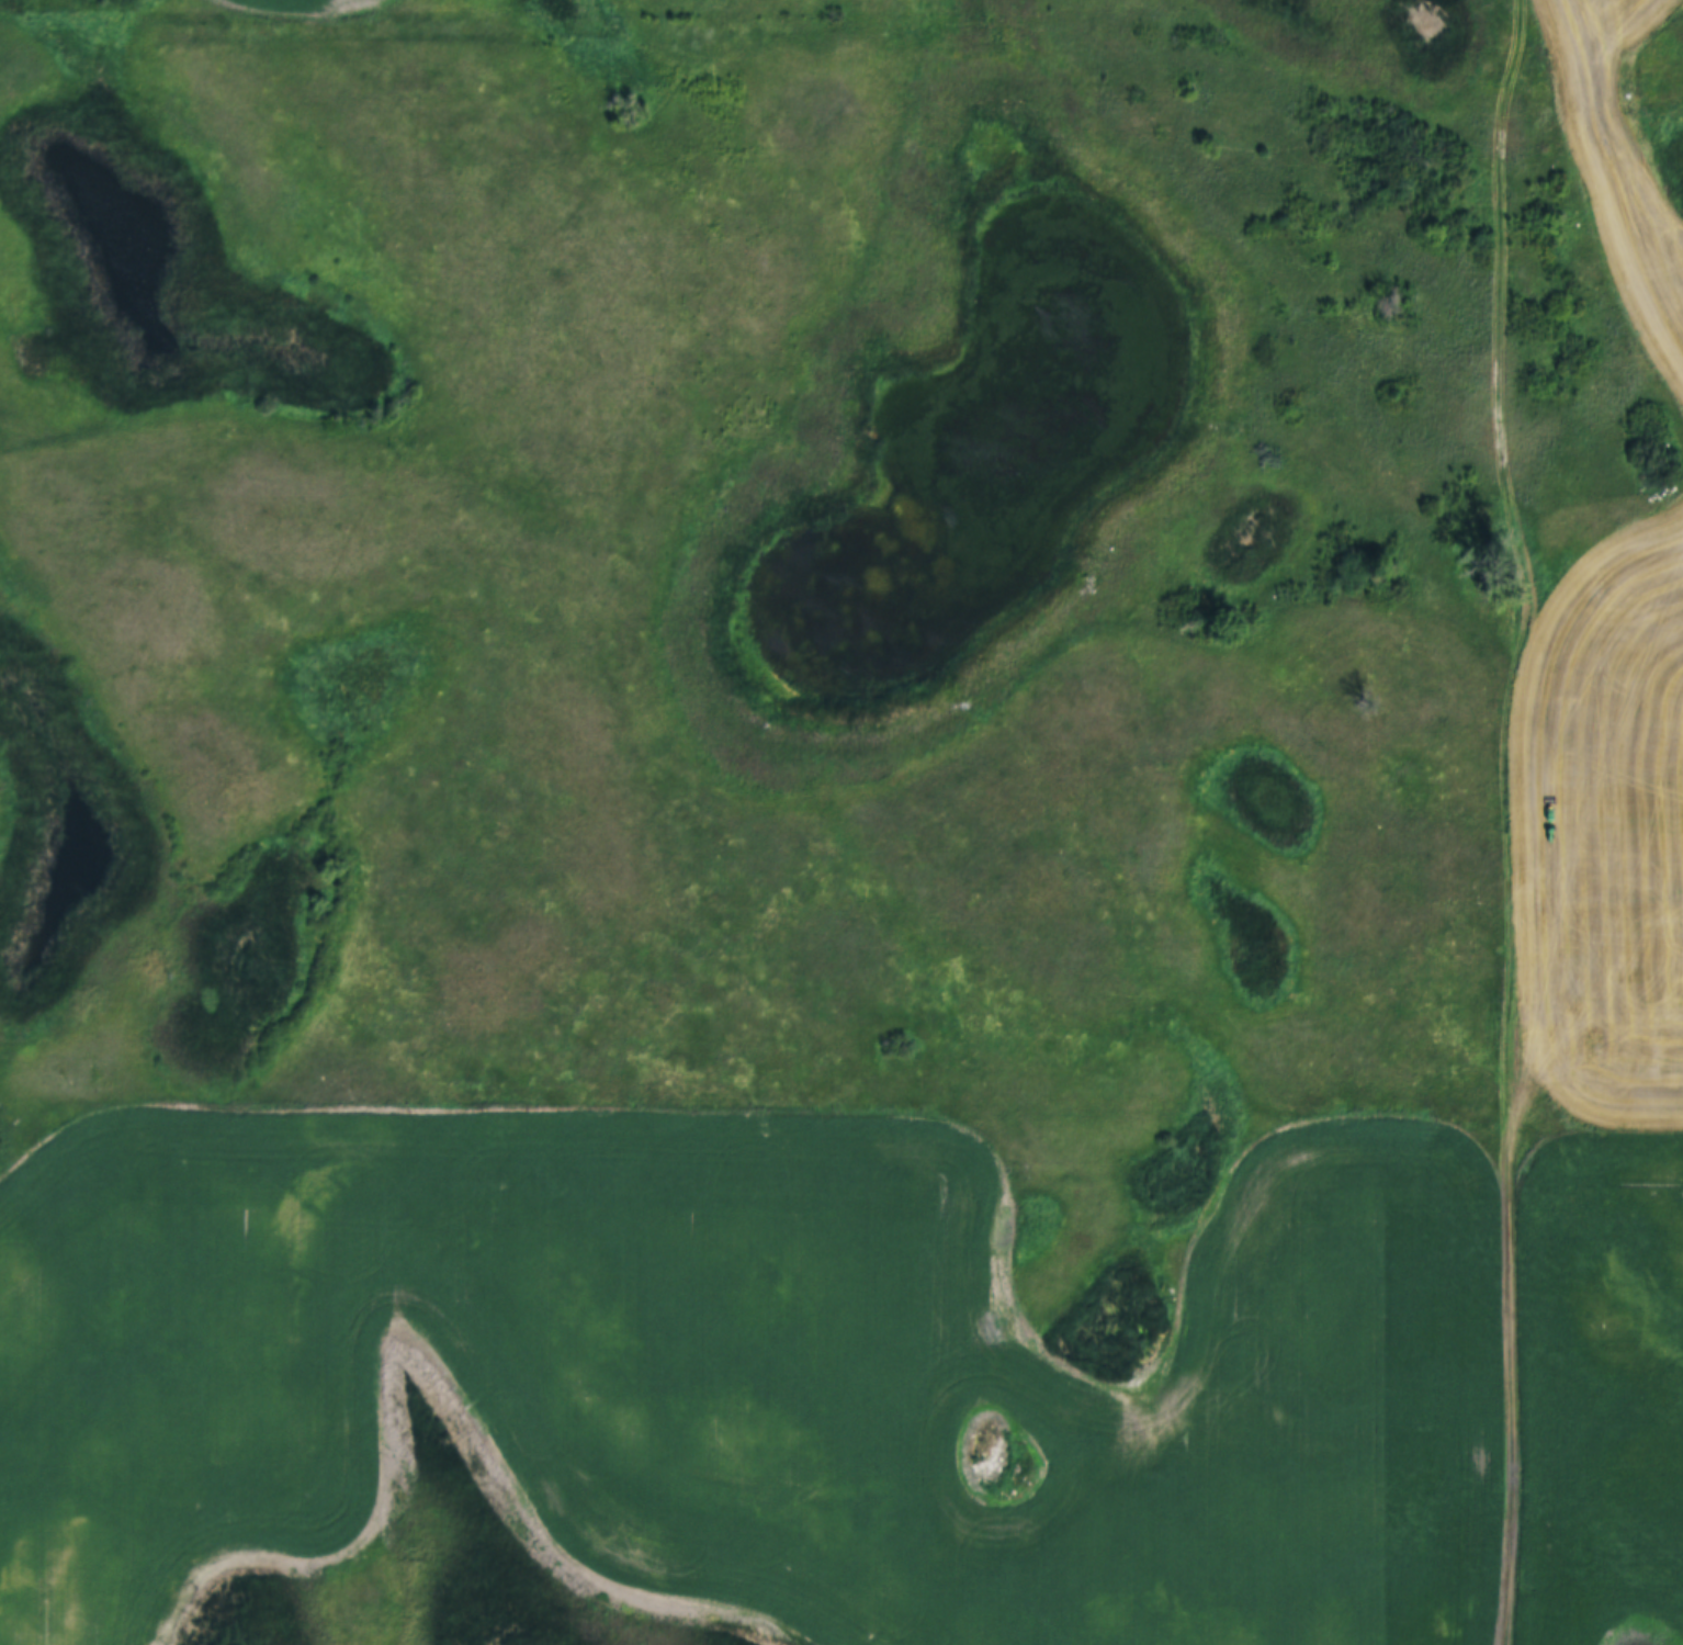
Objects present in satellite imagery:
road: (1509, 1259)

